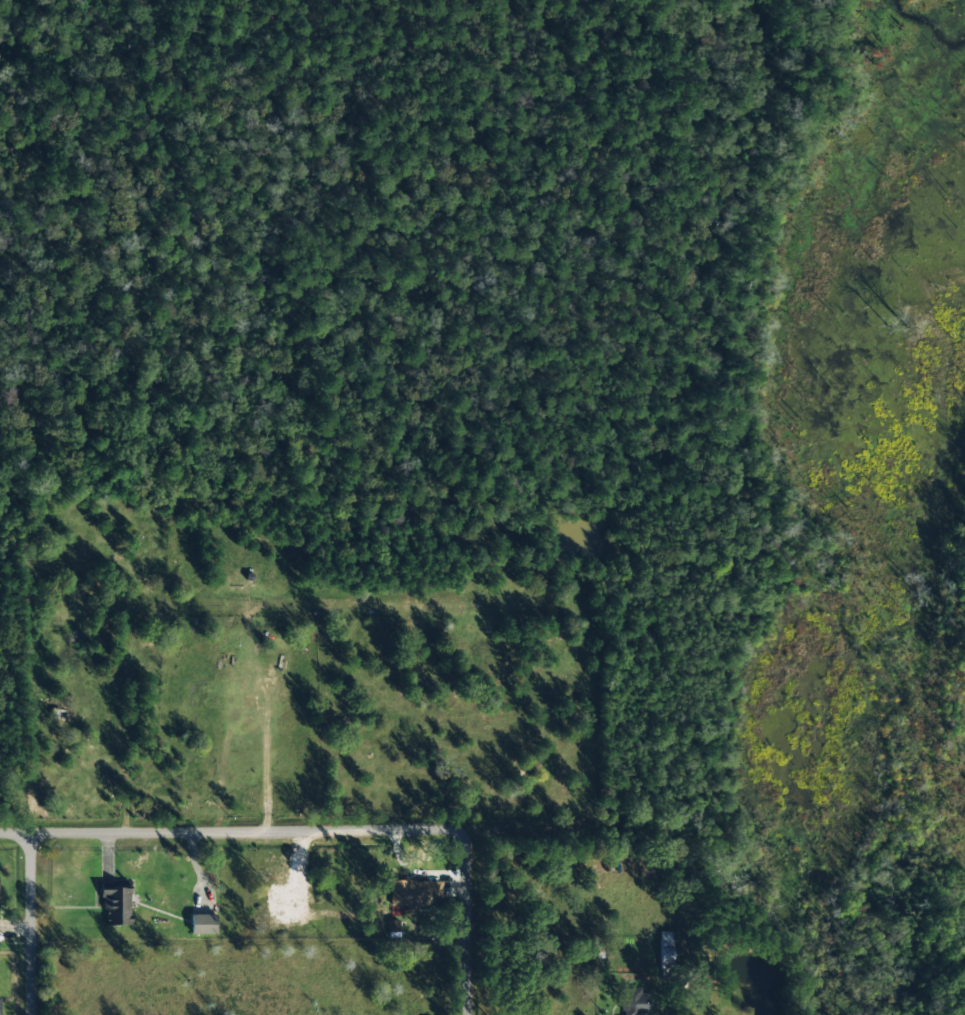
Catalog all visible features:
road: (232, 831)
building: (116, 906)
road: (467, 922)
road: (32, 923)
building: (202, 924)
building: (634, 1002)
building: (0, 1009)

